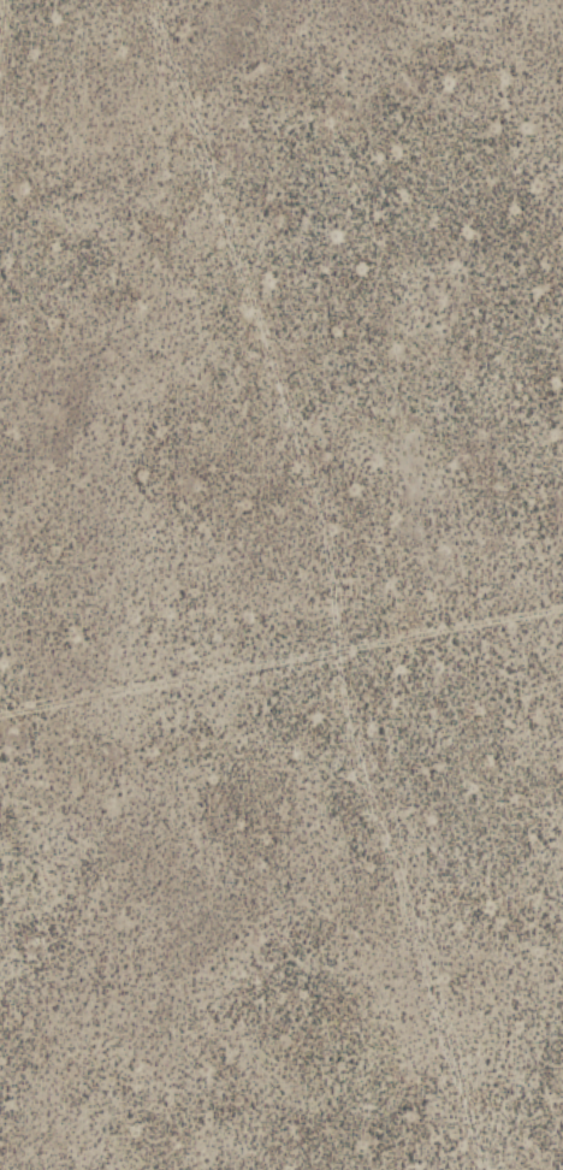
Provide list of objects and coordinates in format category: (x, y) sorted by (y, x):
road: (281, 668)

